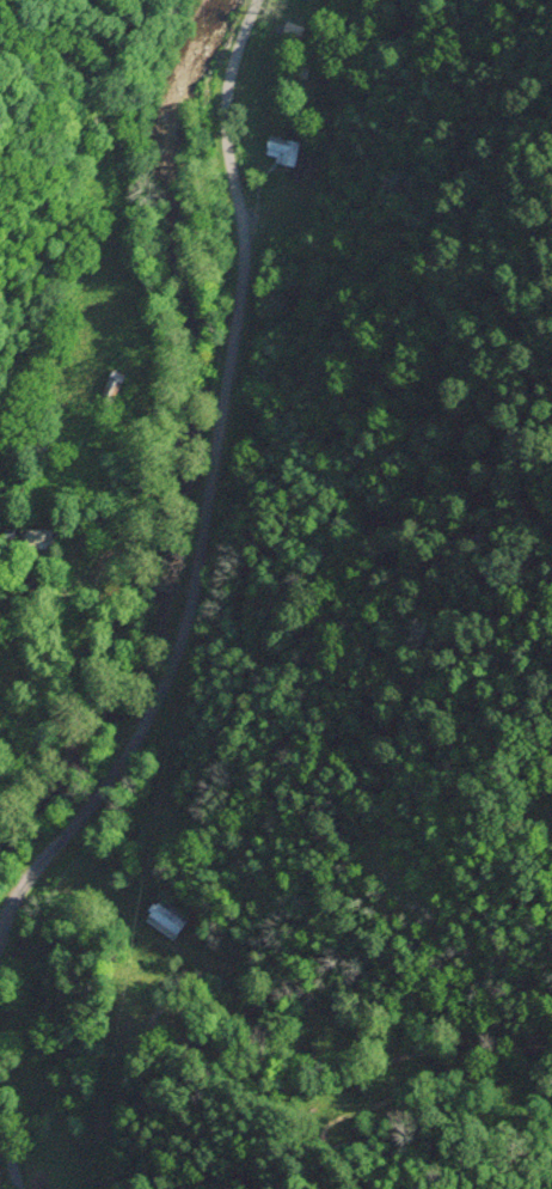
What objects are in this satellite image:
building: (293, 29)
building: (283, 151)
building: (111, 389)
road: (209, 482)
building: (37, 537)
building: (167, 919)
building: (39, 1092)
road: (8, 1153)

